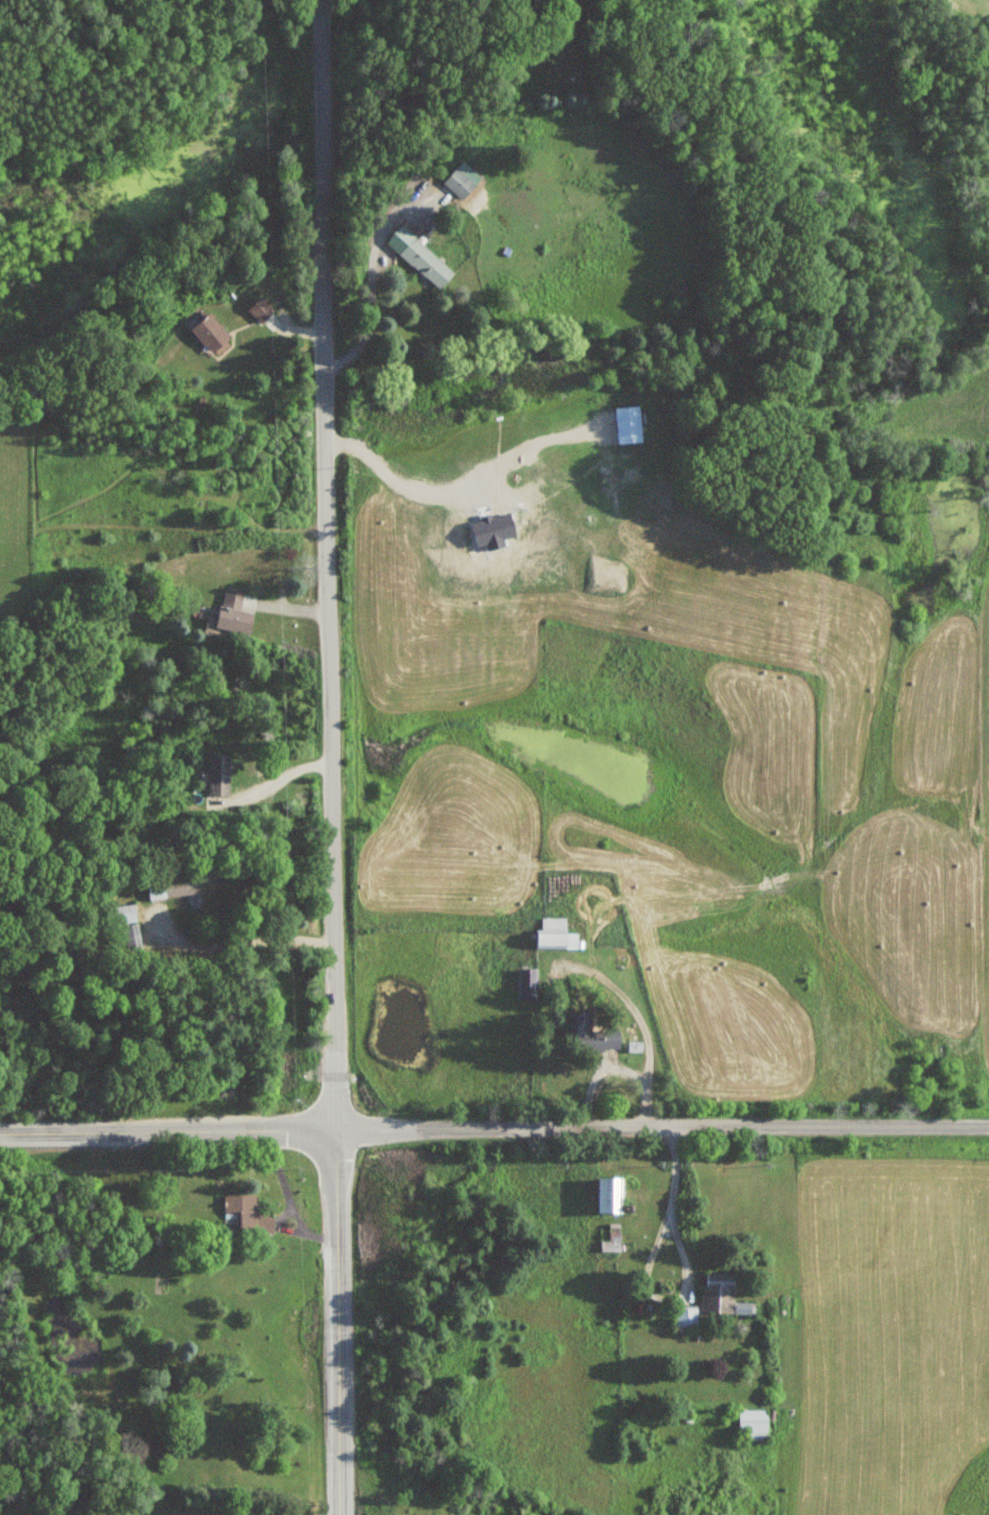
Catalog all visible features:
building: (458, 184)
building: (426, 262)
building: (259, 310)
building: (209, 334)
road: (326, 563)
building: (234, 614)
building: (218, 774)
building: (175, 886)
building: (126, 913)
building: (555, 934)
building: (131, 938)
building: (525, 990)
building: (605, 1041)
road: (662, 1126)
road: (167, 1129)
building: (610, 1195)
building: (242, 1209)
building: (717, 1294)
building: (686, 1317)
road: (337, 1321)
building: (754, 1423)

